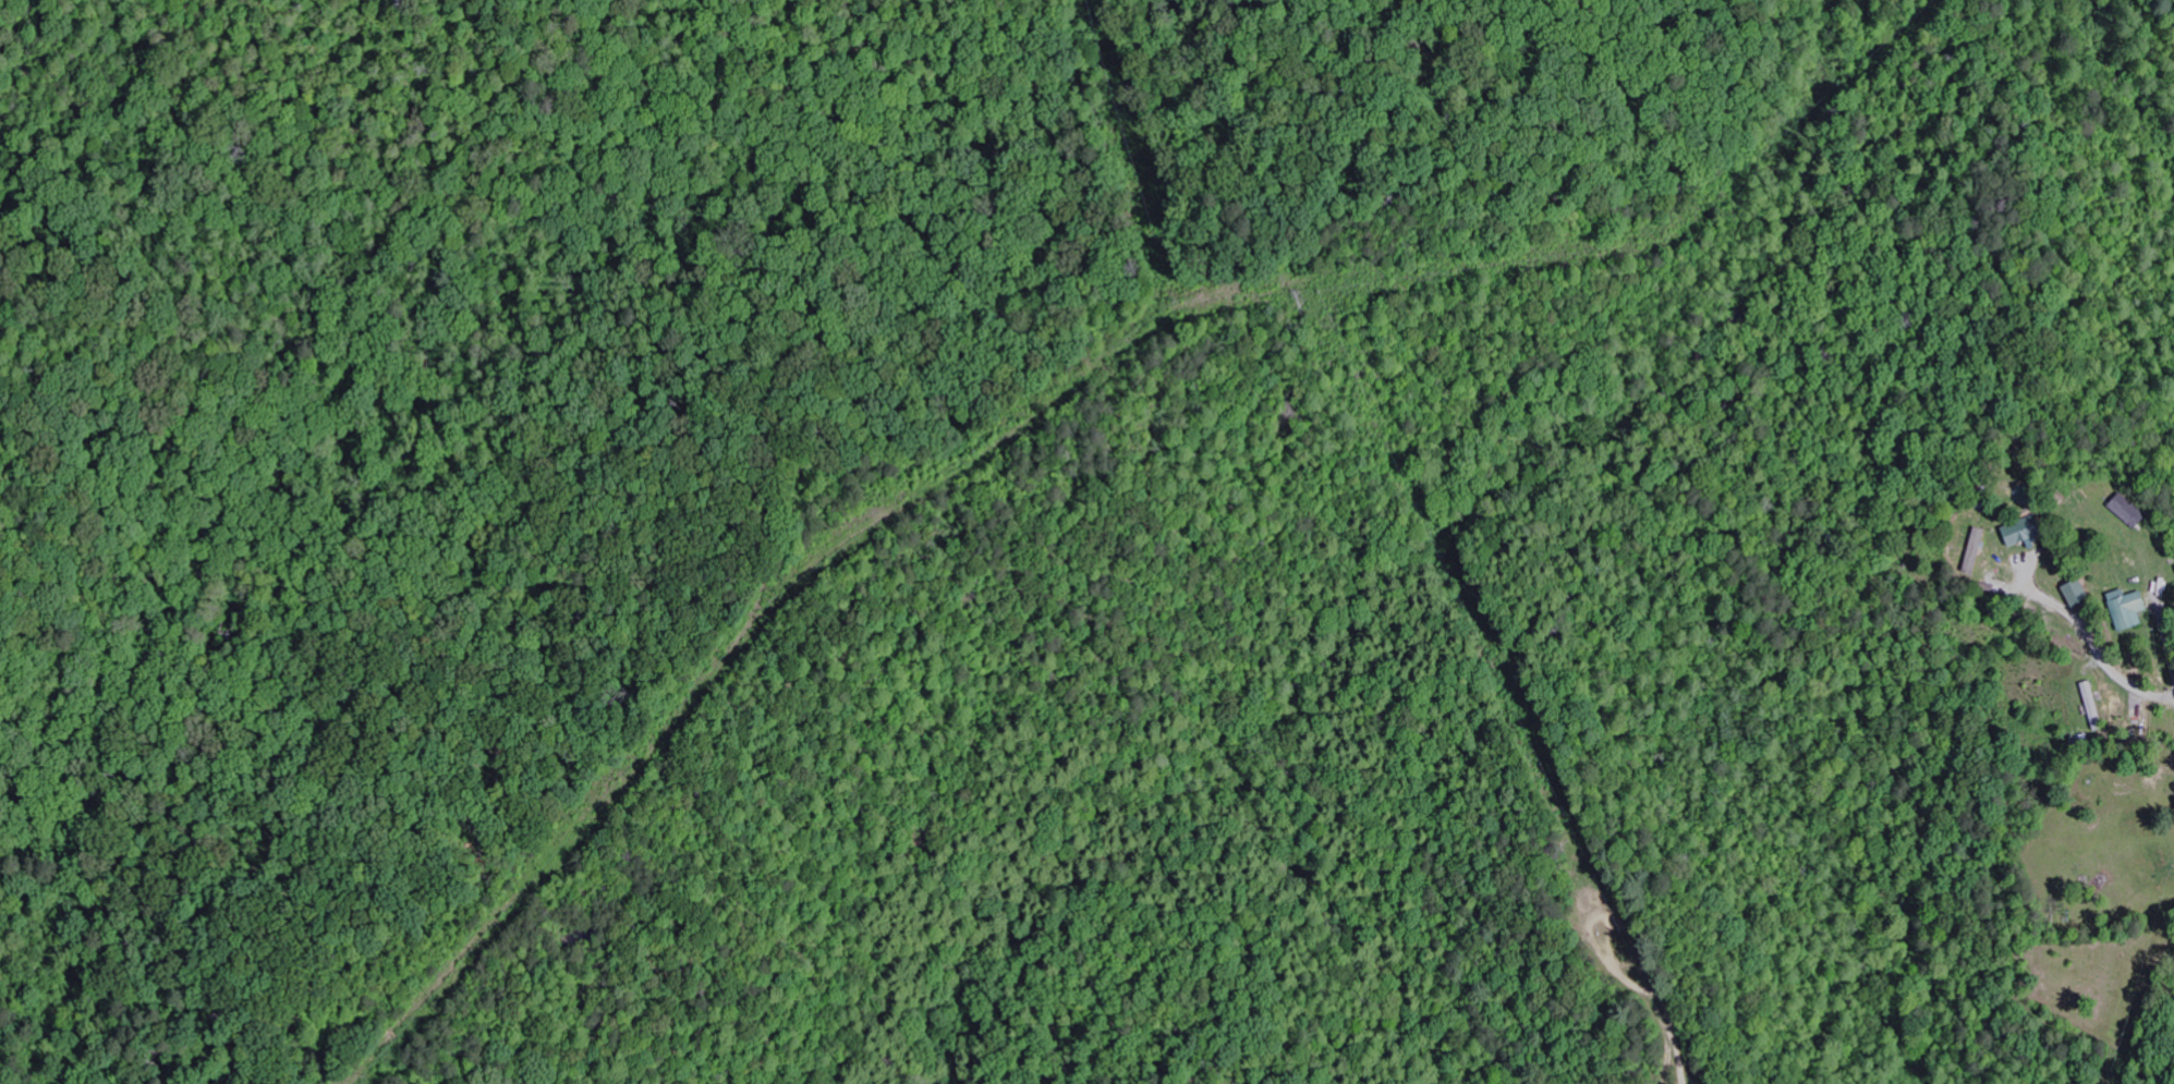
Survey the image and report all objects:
building: (2133, 510)
building: (2027, 529)
building: (1977, 549)
building: (2081, 594)
building: (2132, 608)
road: (2163, 628)
building: (2094, 705)

